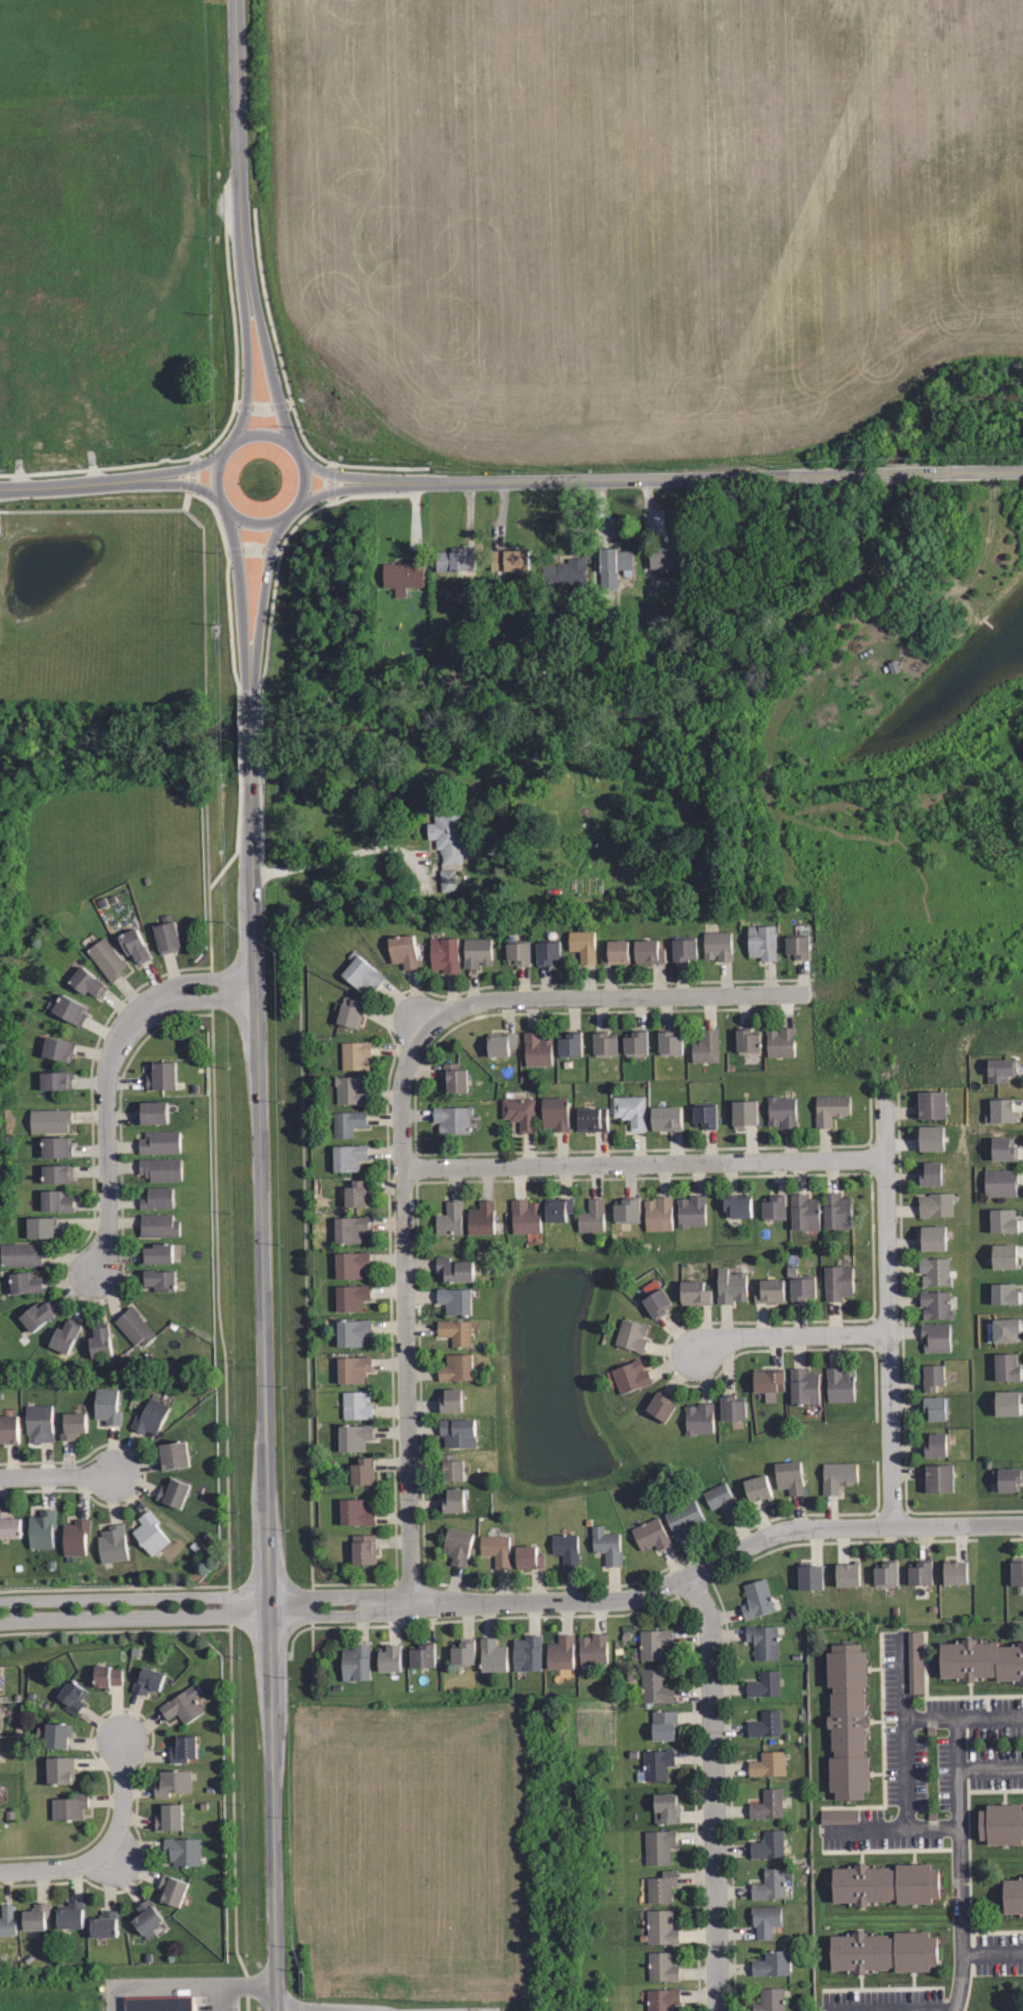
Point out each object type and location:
road: (243, 137)
road: (248, 278)
road: (288, 391)
road: (263, 408)
road: (227, 426)
road: (258, 431)
road: (192, 474)
road: (158, 475)
road: (696, 477)
road: (329, 482)
road: (367, 484)
road: (78, 485)
road: (255, 550)
building: (668, 557)
building: (508, 559)
building: (454, 560)
building: (613, 566)
building: (564, 575)
building: (402, 576)
road: (968, 583)
road: (269, 631)
road: (250, 668)
road: (251, 687)
road: (252, 735)
building: (449, 837)
road: (329, 860)
building: (168, 934)
building: (760, 941)
building: (134, 943)
building: (582, 944)
building: (718, 944)
building: (798, 946)
building: (682, 948)
building: (476, 949)
building: (402, 950)
building: (615, 950)
building: (648, 950)
building: (546, 951)
building: (516, 952)
building: (443, 953)
building: (105, 958)
building: (360, 971)
building: (85, 981)
building: (68, 1009)
building: (349, 1011)
building: (747, 1040)
building: (780, 1040)
building: (635, 1042)
building: (668, 1042)
building: (500, 1043)
building: (569, 1043)
building: (603, 1043)
building: (705, 1045)
building: (536, 1047)
building: (59, 1048)
building: (354, 1054)
building: (998, 1070)
road: (106, 1075)
building: (160, 1075)
building: (453, 1078)
building: (55, 1080)
building: (349, 1089)
building: (934, 1104)
building: (830, 1108)
building: (630, 1109)
building: (780, 1110)
building: (1001, 1110)
building: (154, 1111)
building: (519, 1111)
building: (555, 1111)
building: (745, 1112)
building: (703, 1114)
building: (665, 1116)
building: (50, 1118)
road: (401, 1118)
building: (593, 1118)
building: (450, 1119)
building: (346, 1123)
building: (932, 1138)
building: (160, 1141)
building: (55, 1147)
building: (1002, 1148)
building: (349, 1157)
road: (643, 1162)
building: (162, 1169)
building: (57, 1173)
building: (931, 1174)
building: (1000, 1183)
building: (358, 1193)
building: (157, 1197)
building: (55, 1200)
building: (936, 1203)
building: (738, 1204)
building: (773, 1207)
building: (556, 1208)
building: (626, 1209)
building: (690, 1209)
building: (835, 1210)
building: (658, 1212)
building: (803, 1212)
building: (591, 1214)
building: (525, 1215)
building: (483, 1217)
building: (451, 1218)
building: (1003, 1220)
building: (158, 1224)
building: (41, 1227)
building: (349, 1228)
building: (332, 1230)
building: (933, 1235)
road: (217, 1239)
building: (157, 1252)
building: (19, 1253)
building: (1006, 1254)
building: (350, 1264)
building: (453, 1269)
building: (934, 1270)
building: (158, 1279)
building: (836, 1281)
building: (24, 1282)
building: (731, 1284)
building: (801, 1288)
building: (769, 1289)
building: (694, 1291)
building: (1004, 1294)
building: (350, 1297)
building: (654, 1298)
building: (453, 1299)
building: (934, 1303)
road: (887, 1311)
building: (37, 1314)
building: (133, 1326)
building: (1006, 1329)
building: (454, 1331)
building: (350, 1332)
building: (630, 1334)
road: (793, 1334)
building: (65, 1335)
building: (937, 1337)
building: (99, 1339)
building: (108, 1343)
building: (455, 1367)
building: (1008, 1367)
building: (351, 1368)
building: (629, 1375)
building: (931, 1376)
building: (767, 1382)
building: (840, 1383)
building: (803, 1386)
road: (263, 1390)
building: (451, 1400)
building: (1007, 1402)
building: (107, 1405)
building: (354, 1405)
building: (659, 1406)
building: (934, 1406)
building: (731, 1408)
building: (149, 1417)
building: (698, 1417)
building: (39, 1422)
building: (72, 1425)
building: (9, 1428)
building: (457, 1431)
building: (352, 1437)
building: (934, 1444)
building: (173, 1456)
building: (449, 1467)
building: (361, 1470)
road: (56, 1475)
building: (836, 1475)
building: (789, 1476)
building: (941, 1478)
building: (1009, 1479)
building: (758, 1487)
building: (172, 1492)
building: (453, 1499)
building: (720, 1499)
building: (354, 1511)
building: (683, 1519)
building: (8, 1526)
building: (41, 1528)
building: (149, 1532)
building: (652, 1535)
building: (75, 1537)
building: (112, 1543)
building: (606, 1544)
building: (455, 1546)
building: (363, 1549)
building: (497, 1549)
building: (566, 1549)
building: (529, 1558)
building: (954, 1571)
building: (1017, 1572)
building: (885, 1573)
building: (921, 1573)
building: (811, 1575)
building: (849, 1575)
road: (651, 1590)
building: (756, 1598)
road: (133, 1608)
building: (761, 1642)
building: (651, 1644)
building: (594, 1649)
building: (528, 1652)
building: (463, 1653)
building: (561, 1653)
building: (423, 1654)
building: (493, 1655)
building: (389, 1657)
building: (981, 1661)
building: (354, 1662)
building: (913, 1664)
building: (107, 1676)
building: (146, 1680)
building: (0, 1683)
building: (763, 1683)
building: (653, 1686)
building: (74, 1696)
building: (182, 1705)
building: (2, 1714)
road: (964, 1719)
building: (848, 1721)
building: (662, 1724)
building: (764, 1724)
road: (905, 1733)
building: (56, 1735)
building: (182, 1747)
building: (1, 1754)
building: (655, 1764)
building: (768, 1764)
road: (991, 1768)
building: (62, 1769)
building: (171, 1783)
road: (712, 1789)
building: (1, 1790)
road: (121, 1795)
building: (767, 1804)
building: (70, 1806)
building: (664, 1809)
building: (2, 1817)
building: (167, 1817)
building: (836, 1818)
building: (1001, 1824)
road: (891, 1829)
building: (0, 1835)
building: (767, 1845)
building: (657, 1846)
building: (182, 1851)
road: (960, 1865)
road: (55, 1869)
building: (769, 1884)
building: (885, 1884)
building: (661, 1886)
building: (171, 1889)
building: (1013, 1896)
building: (34, 1916)
building: (70, 1916)
building: (145, 1918)
building: (7, 1921)
building: (764, 1923)
building: (104, 1924)
building: (661, 1927)
building: (883, 1952)
road: (992, 1954)
building: (771, 1965)
building: (660, 1967)
road: (235, 1986)
road: (158, 1988)
building: (660, 1999)
building: (769, 1999)
building: (160, 2003)
road: (911, 2010)

